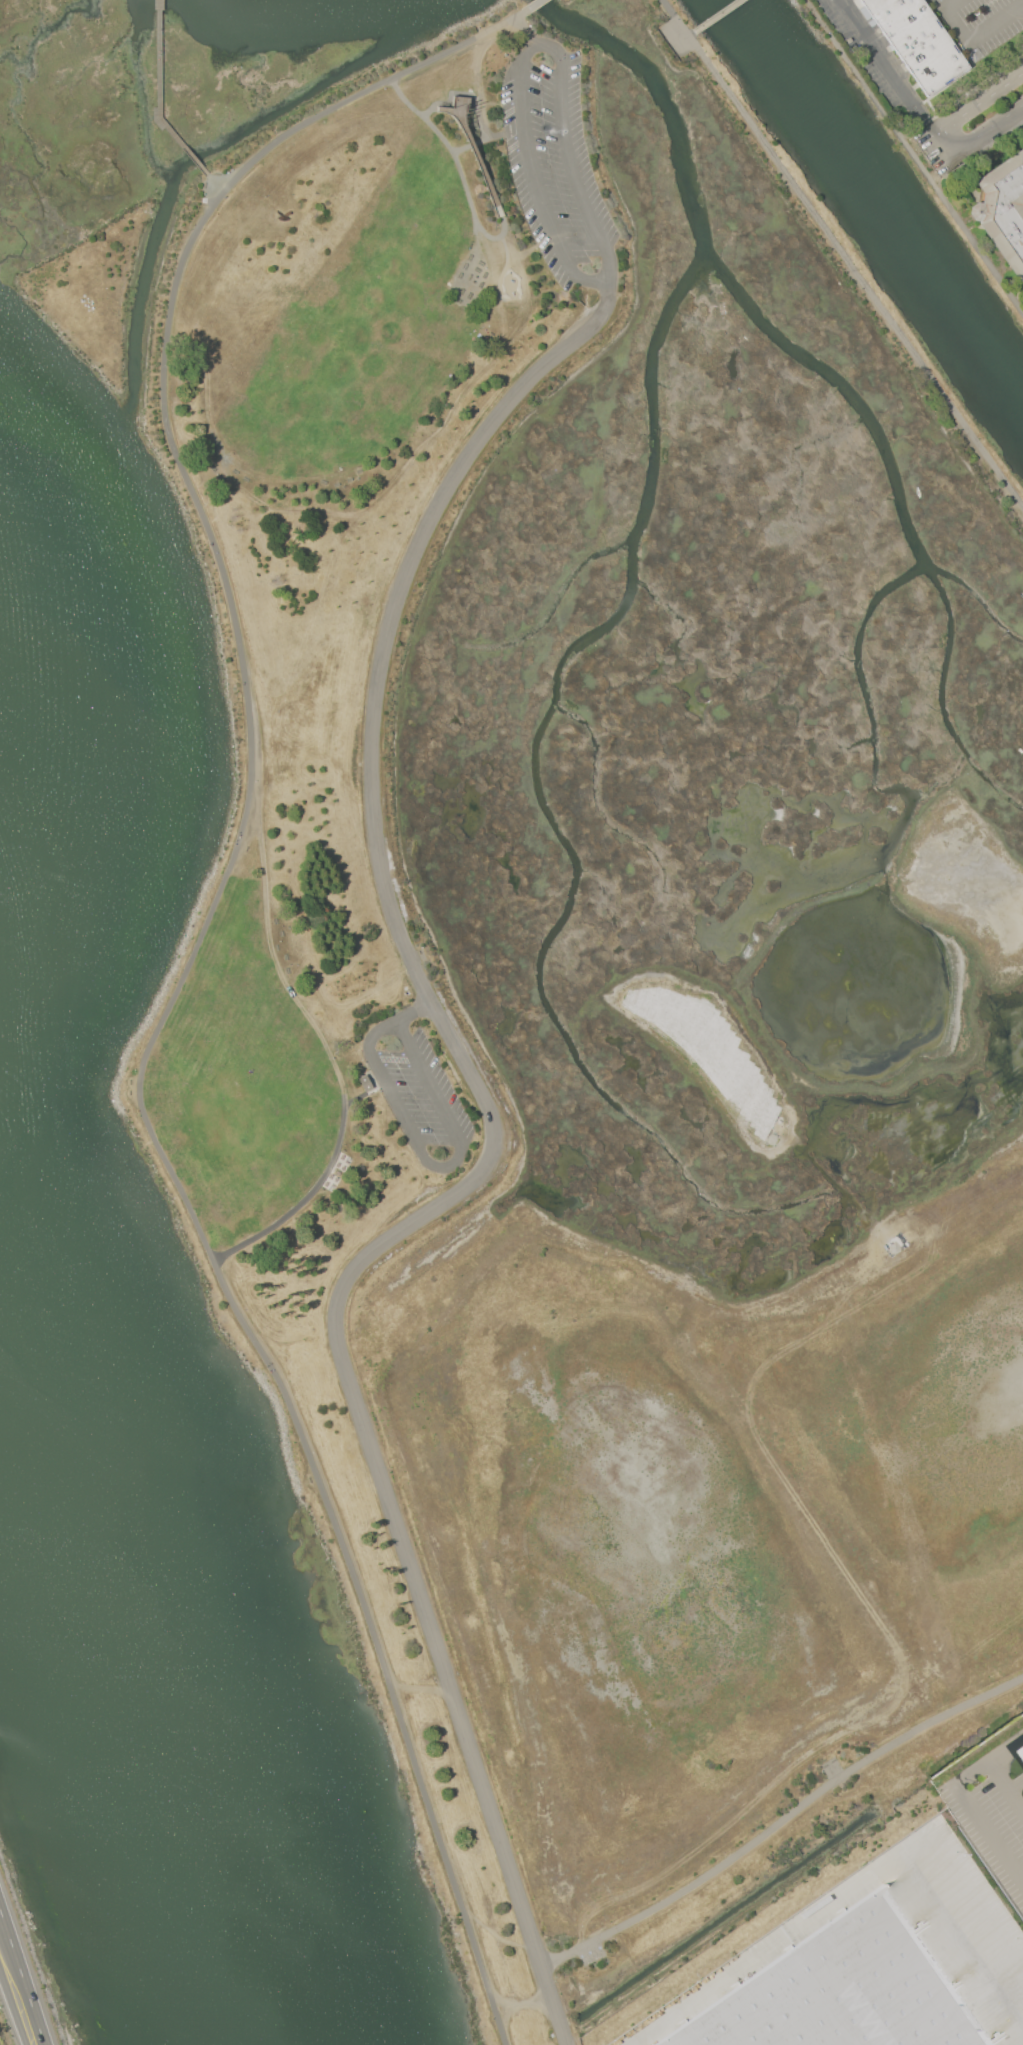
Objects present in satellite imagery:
road: (530, 5)
road: (934, 6)
road: (947, 6)
road: (715, 15)
road: (523, 32)
road: (690, 33)
road: (976, 37)
building: (918, 41)
road: (530, 53)
road: (884, 69)
road: (461, 93)
pier: (160, 100)
road: (977, 107)
road: (446, 110)
road: (1019, 118)
road: (985, 134)
road: (488, 138)
road: (939, 150)
road: (914, 156)
road: (477, 161)
parking lot: (560, 166)
road: (215, 185)
building: (1003, 210)
road: (473, 215)
road: (504, 234)
road: (842, 258)
park: (511, 286)
road: (279, 955)
road: (187, 963)
park: (588, 969)
road: (416, 1013)
building: (365, 1083)
parking lot: (422, 1093)
road: (362, 1094)
road: (489, 1161)
road: (437, 1166)
road: (302, 1200)
building: (1022, 1743)
road: (1007, 1750)
road: (973, 1774)
road: (1007, 1783)
parking lot: (992, 1818)
road: (781, 1819)
road: (989, 1835)
road: (847, 1890)
parking lot: (950, 1904)
road: (19, 1988)
building: (836, 1989)
road: (523, 2003)
airport: (1, 2039)

